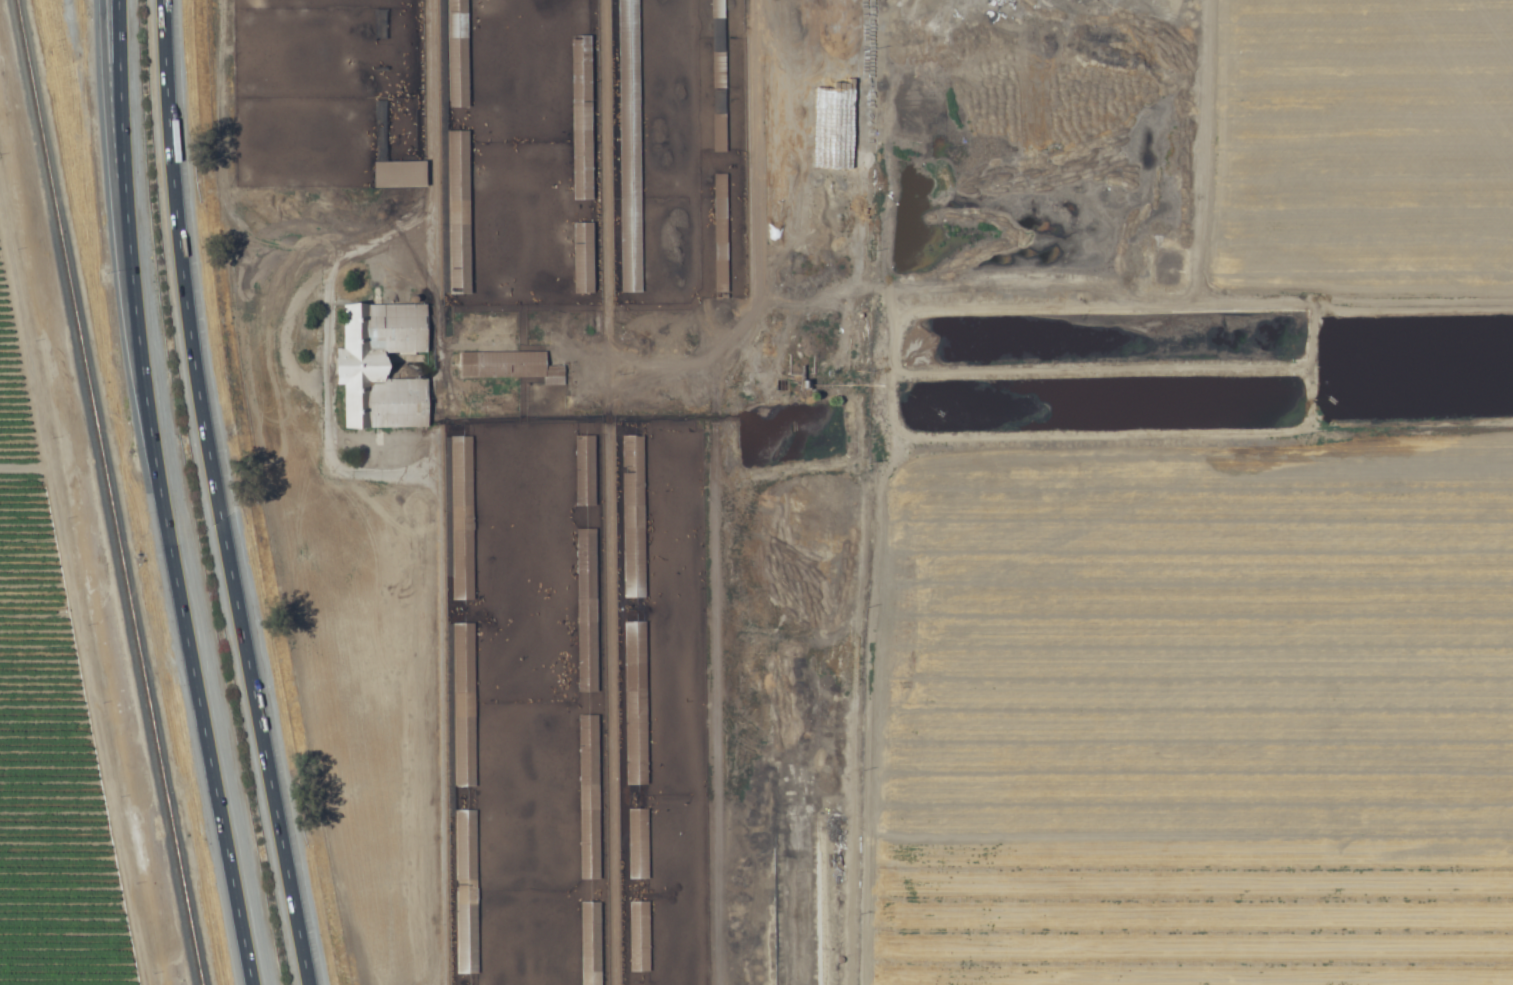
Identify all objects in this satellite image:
building: (716, 9)
building: (455, 54)
building: (627, 65)
building: (718, 71)
building: (581, 118)
road: (431, 126)
road: (112, 131)
building: (718, 133)
crop: (1351, 147)
building: (398, 175)
building: (458, 213)
building: (629, 218)
building: (719, 236)
building: (582, 259)
building: (381, 366)
building: (508, 366)
building: (584, 470)
railway: (105, 492)
road: (156, 495)
road: (214, 495)
building: (632, 517)
building: (461, 518)
wastewater plant: (799, 570)
building: (586, 610)
crop: (132, 675)
building: (634, 703)
building: (463, 705)
crop: (1212, 715)
building: (588, 797)
building: (637, 843)
building: (465, 892)
building: (638, 936)
building: (590, 943)

